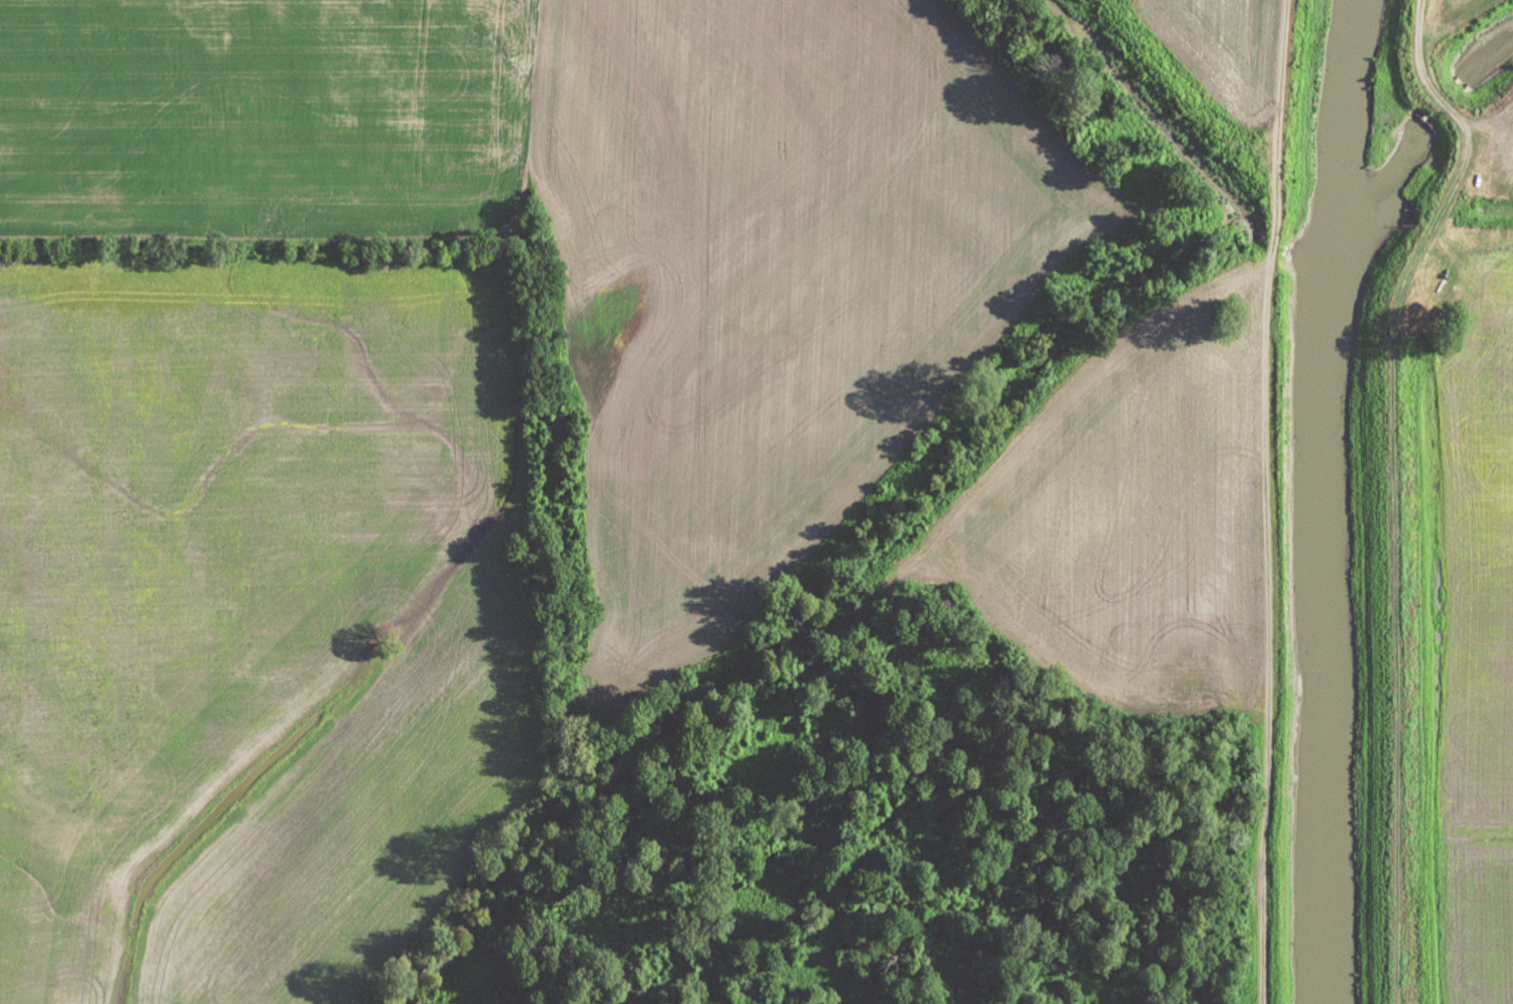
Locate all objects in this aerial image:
river: (1415, 144)
road: (1271, 501)
river: (1316, 501)

